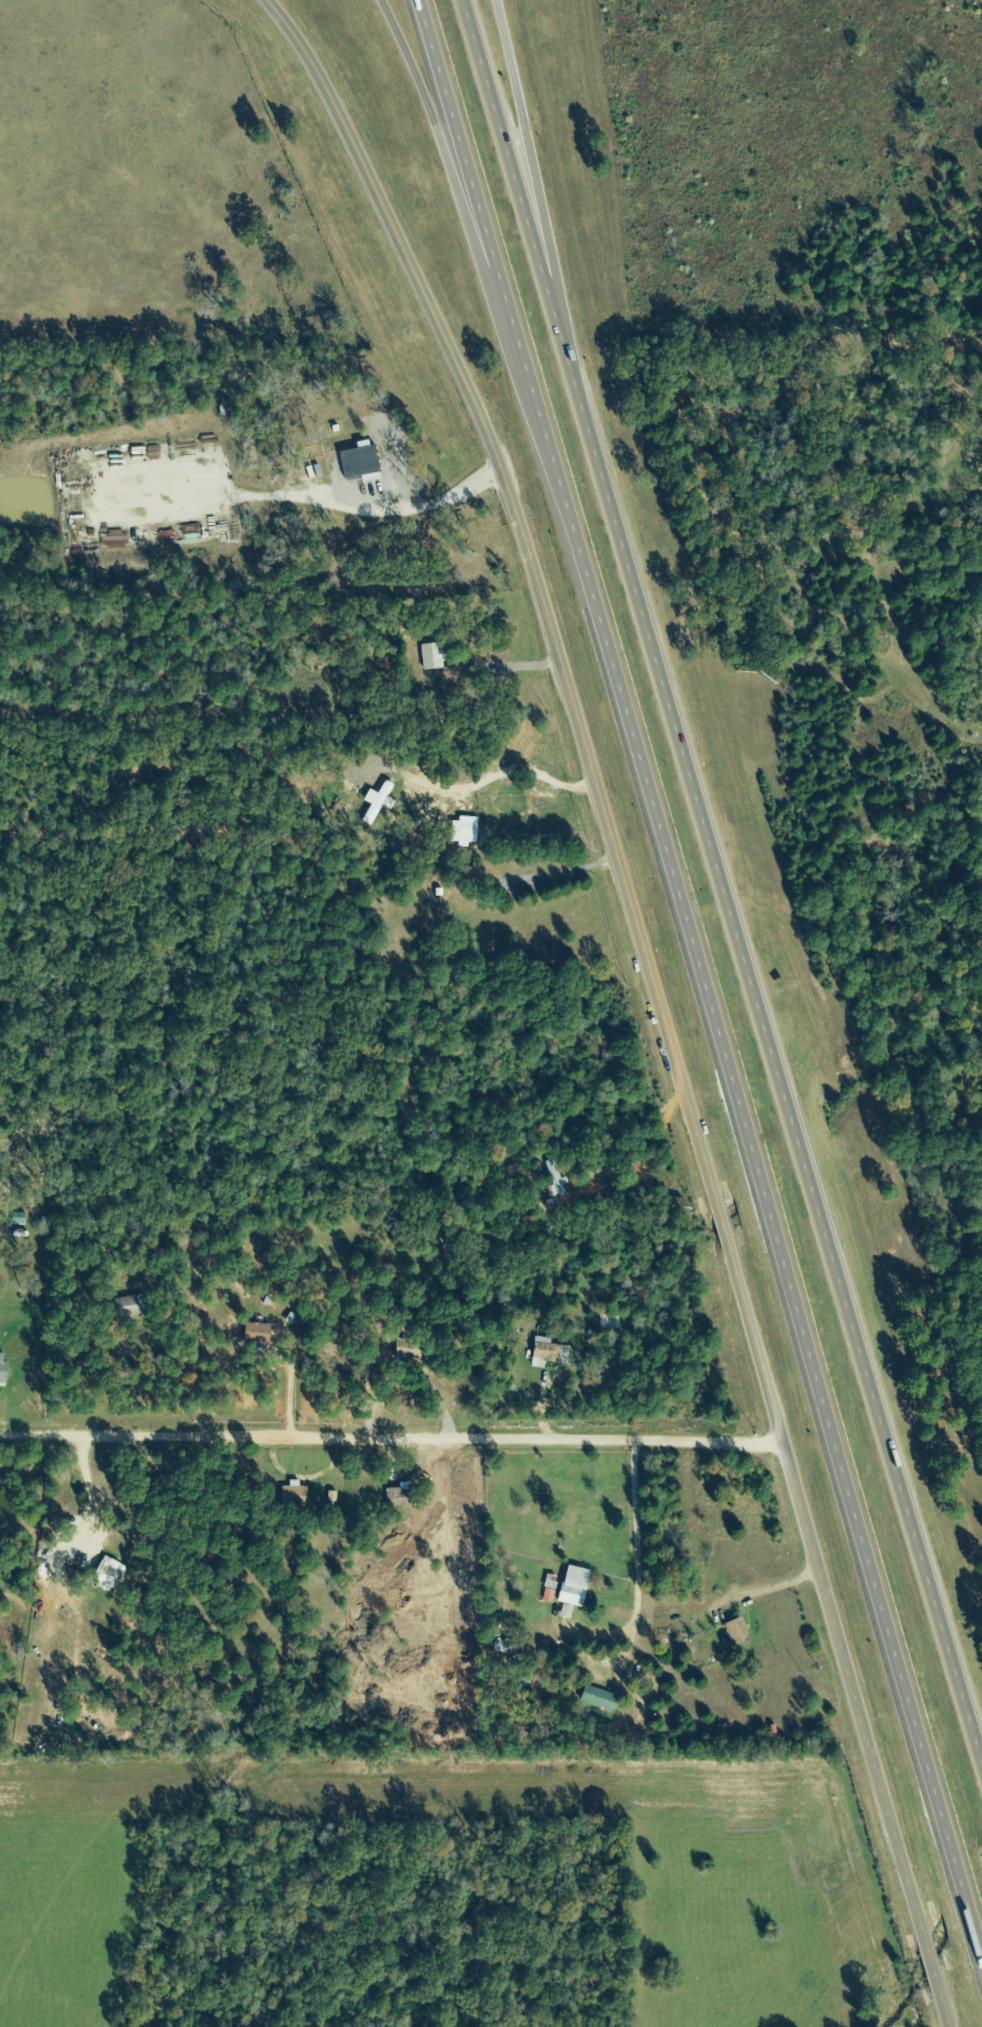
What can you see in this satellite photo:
road: (515, 185)
road: (537, 185)
road: (513, 382)
building: (358, 461)
building: (429, 657)
building: (462, 832)
road: (699, 982)
road: (651, 995)
road: (774, 1068)
building: (556, 1178)
building: (125, 1307)
building: (255, 1333)
building: (549, 1352)
building: (1, 1367)
road: (390, 1436)
building: (295, 1494)
building: (106, 1574)
building: (571, 1586)
building: (549, 1590)
building: (736, 1632)
building: (597, 1698)

